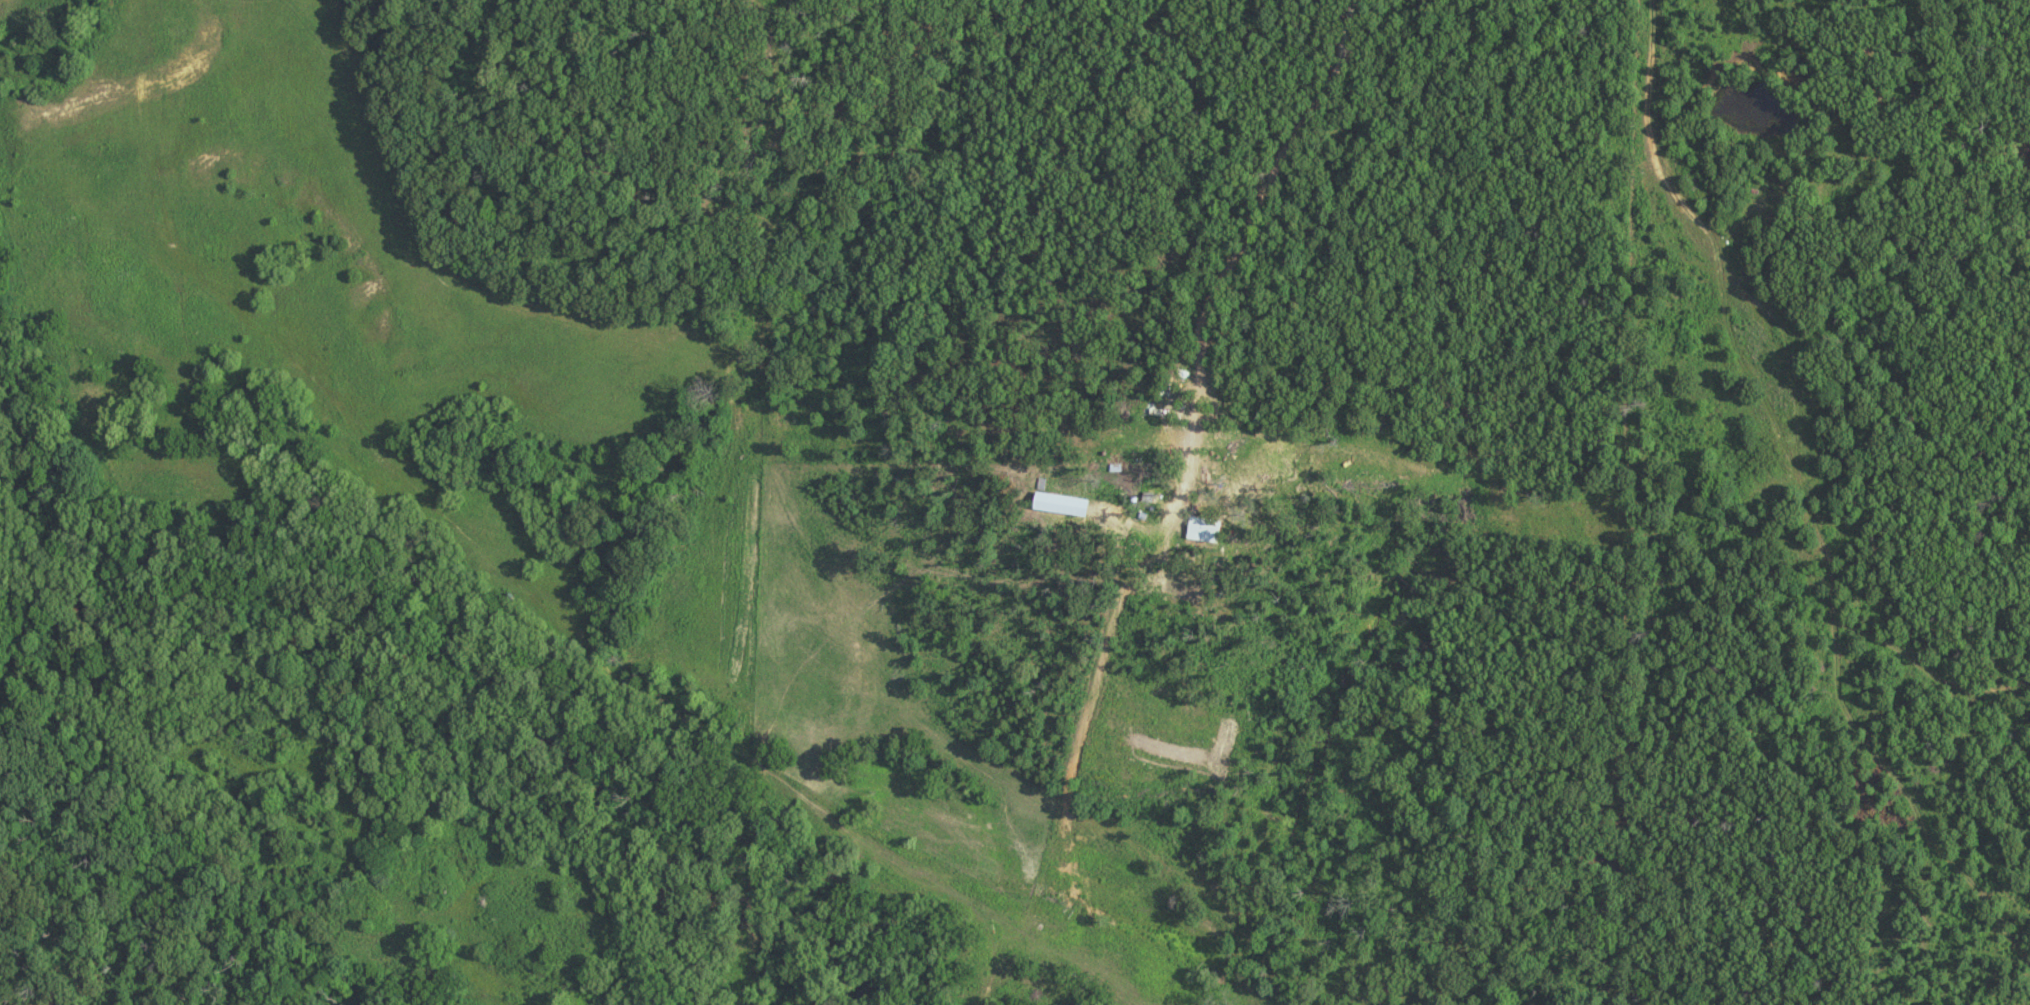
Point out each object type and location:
road: (1771, 408)

